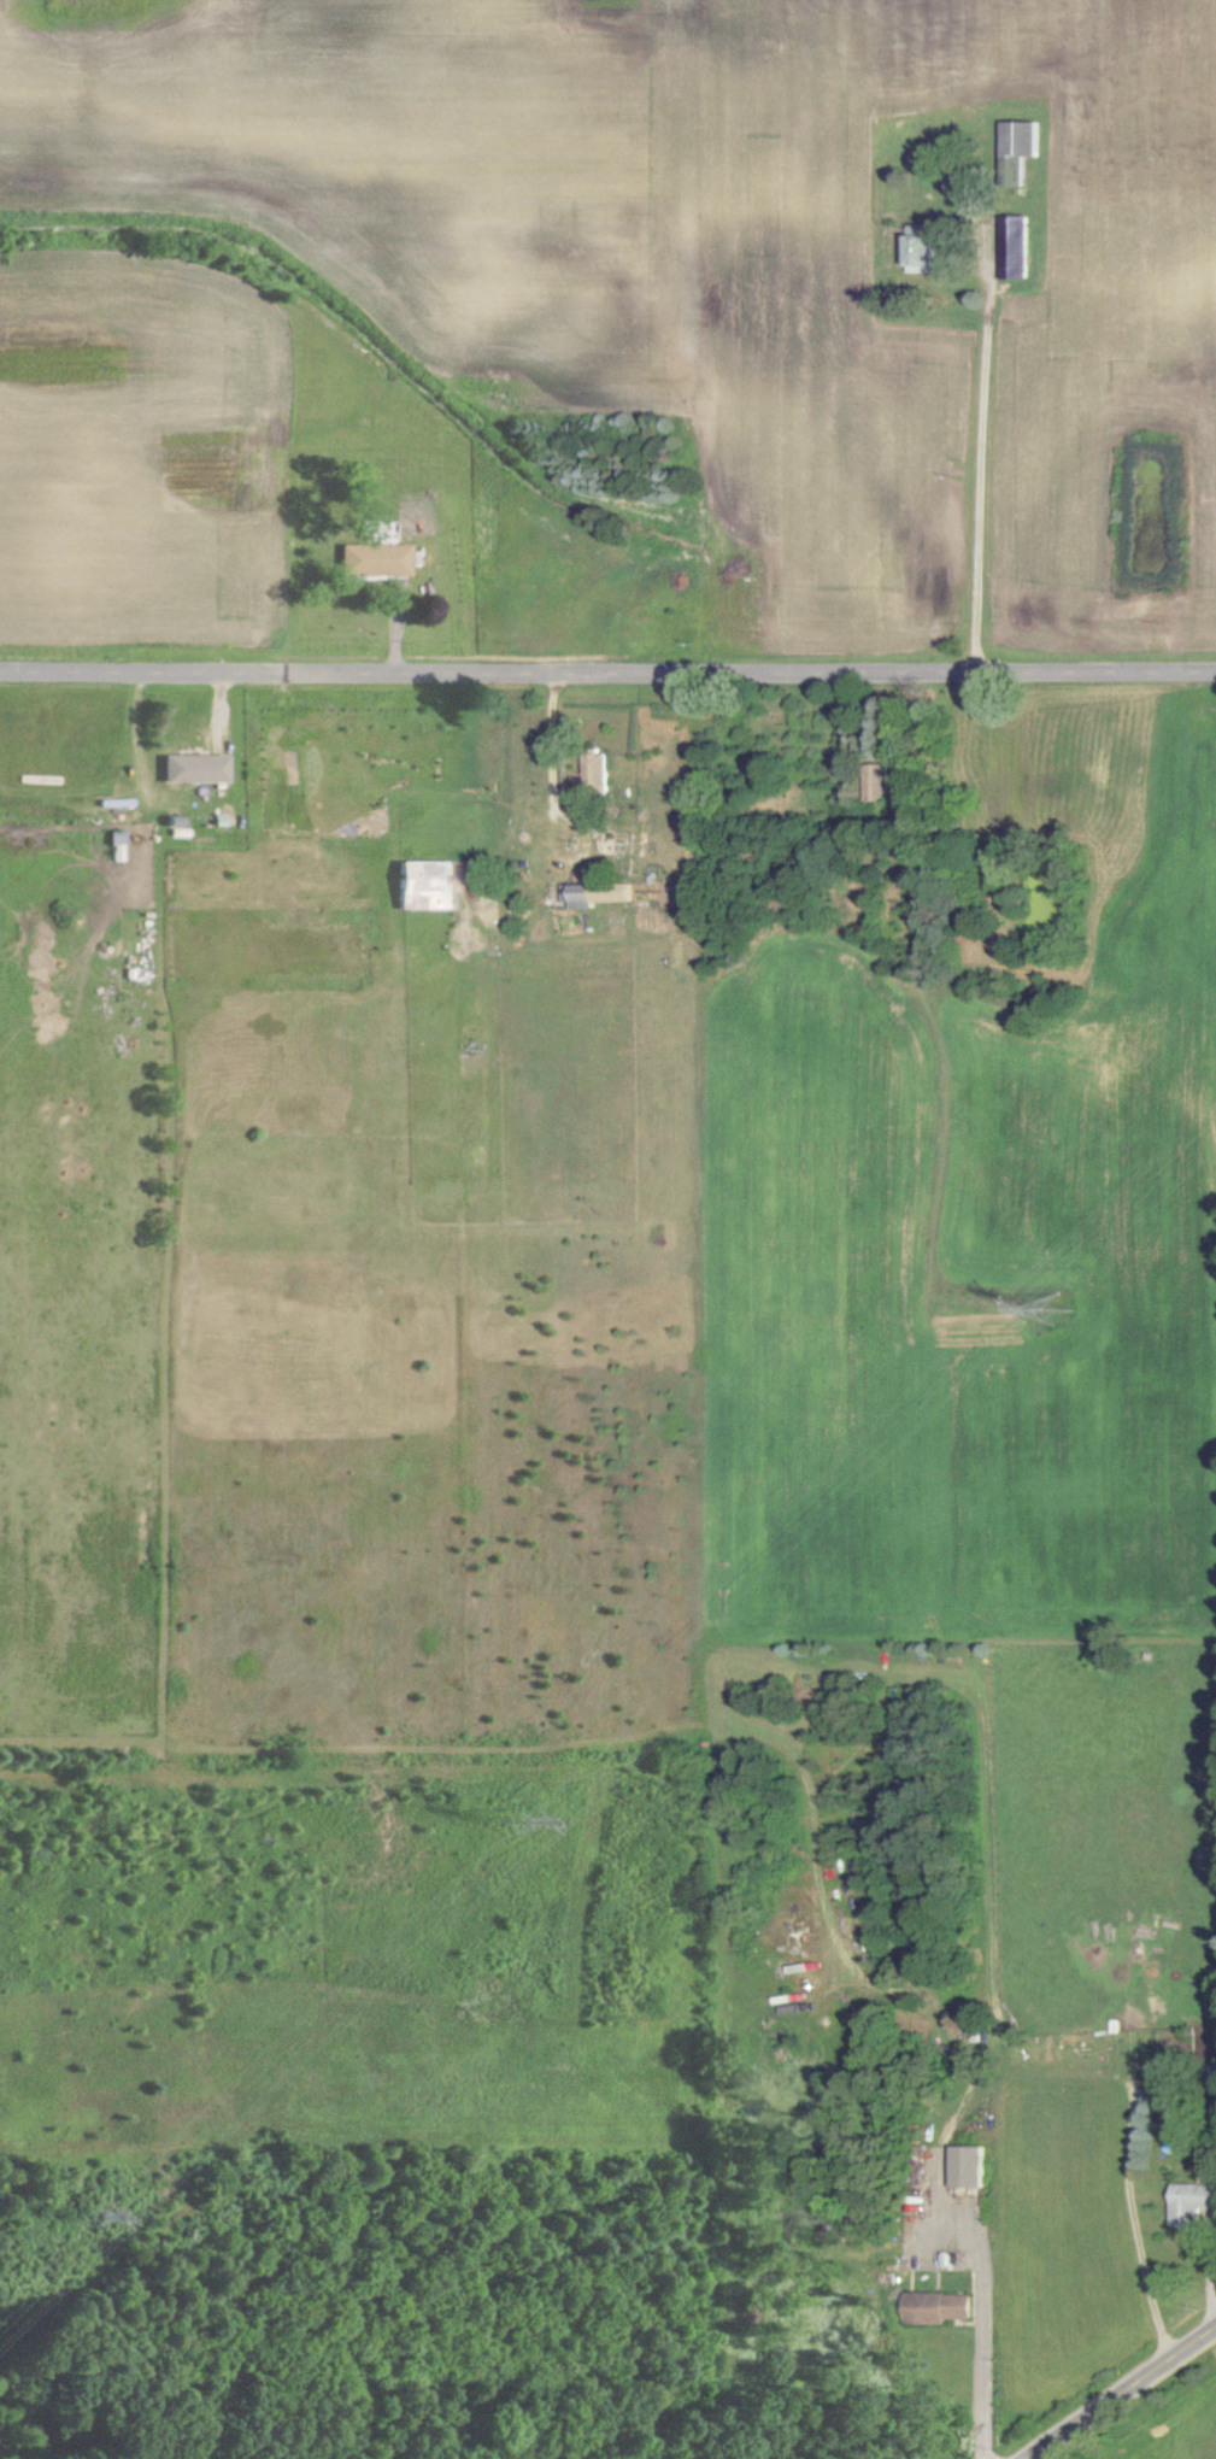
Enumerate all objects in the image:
building: (1020, 139)
road: (987, 460)
building: (370, 561)
road: (607, 680)
road: (554, 759)
building: (193, 769)
building: (600, 771)
building: (877, 782)
building: (425, 886)
building: (584, 896)
power tower: (1064, 1308)
power tower: (503, 1825)
building: (969, 2166)
building: (1196, 2200)
power tower: (77, 2218)
building: (938, 2307)
road: (981, 2344)
road: (1127, 2398)

